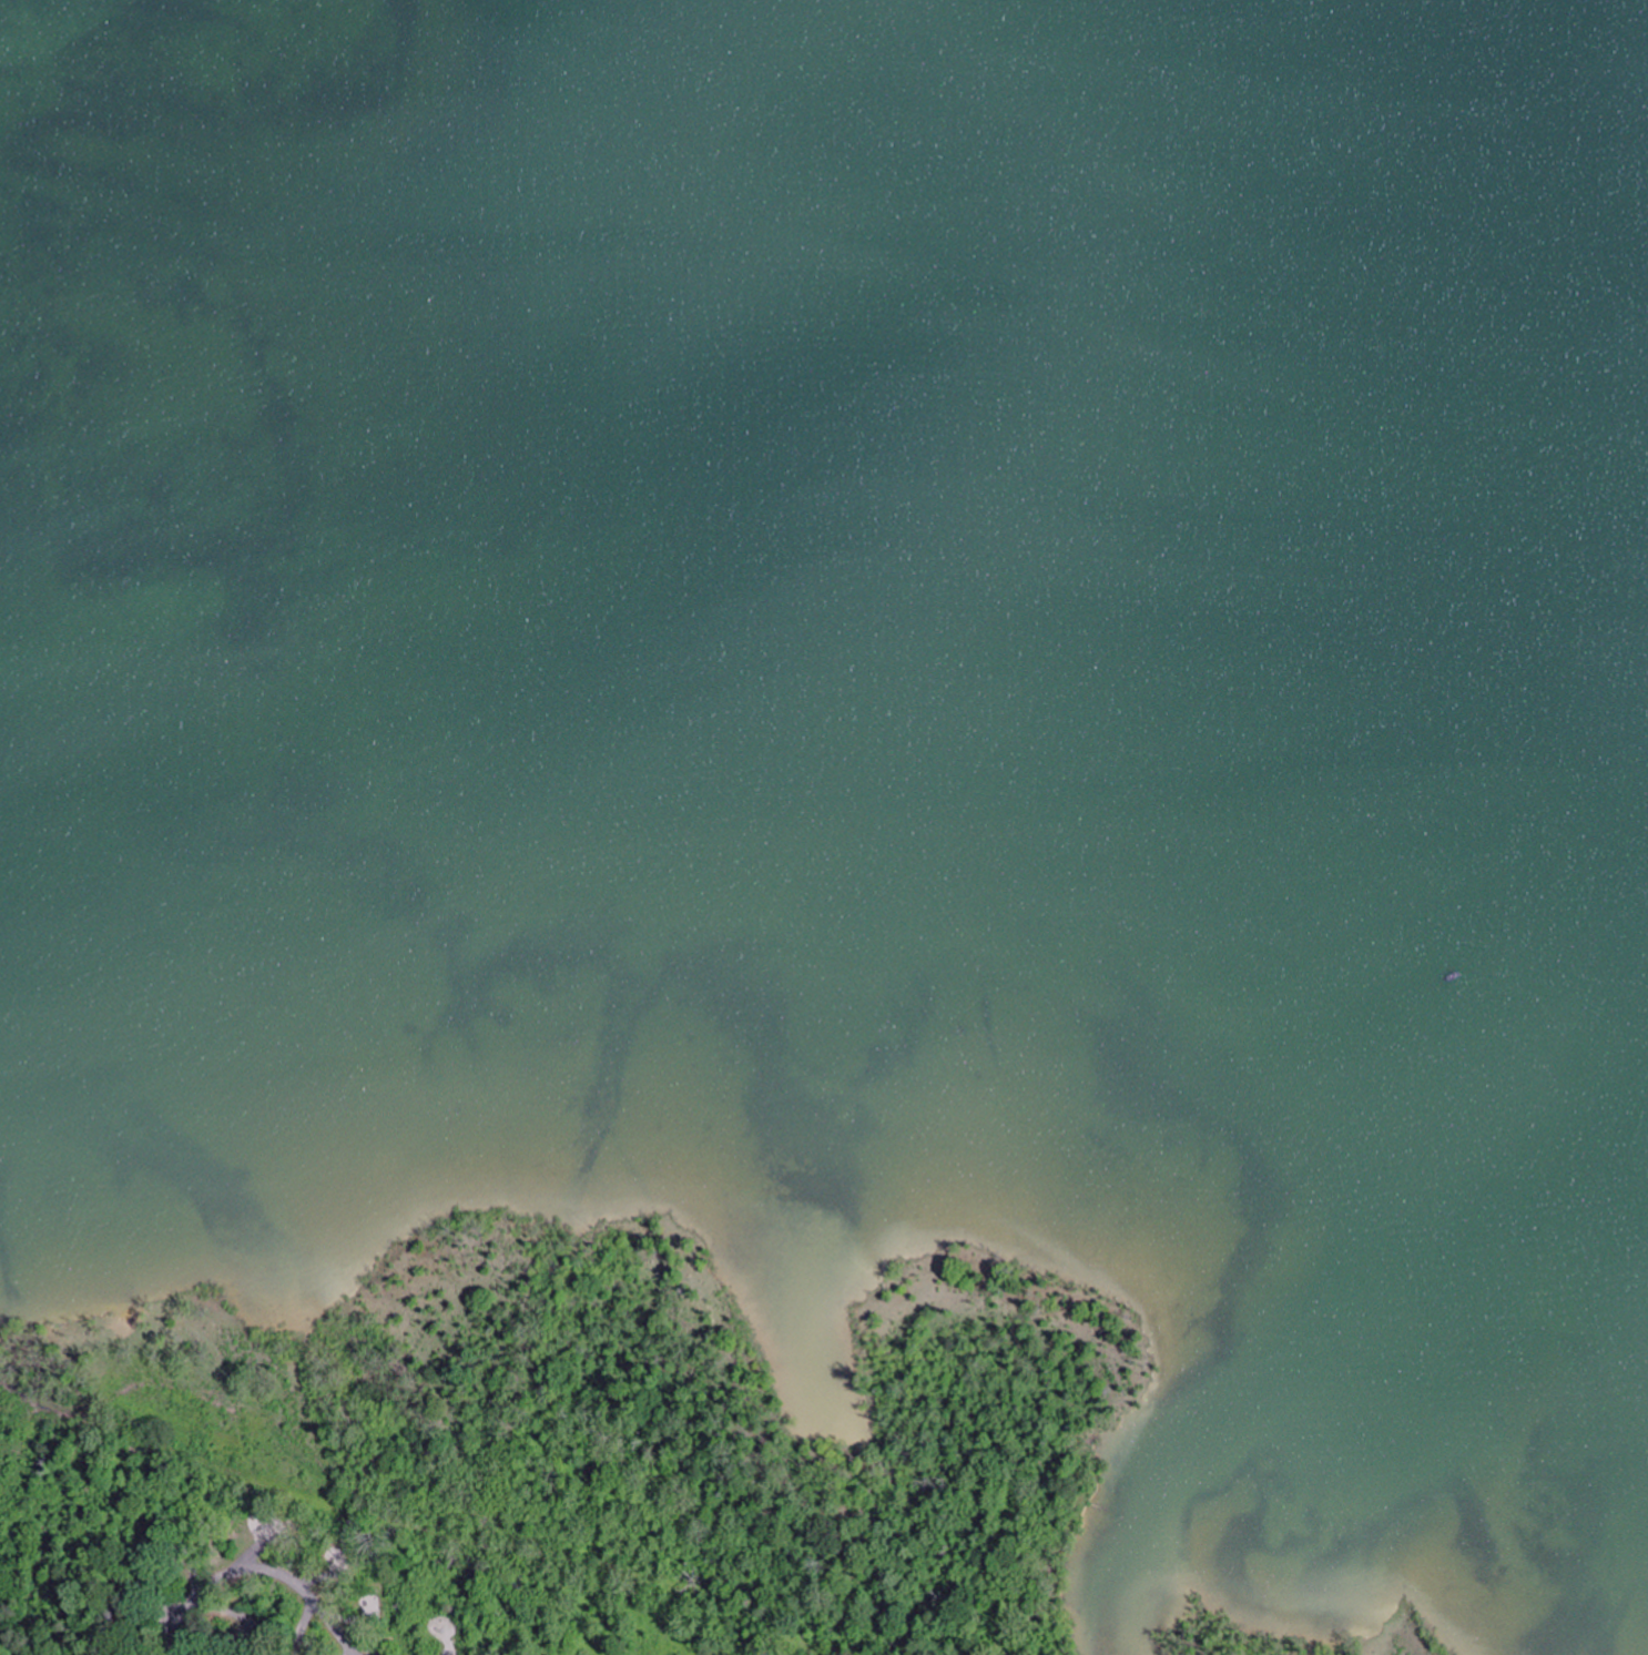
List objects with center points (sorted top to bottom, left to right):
road: (112, 1475)
road: (258, 1570)

